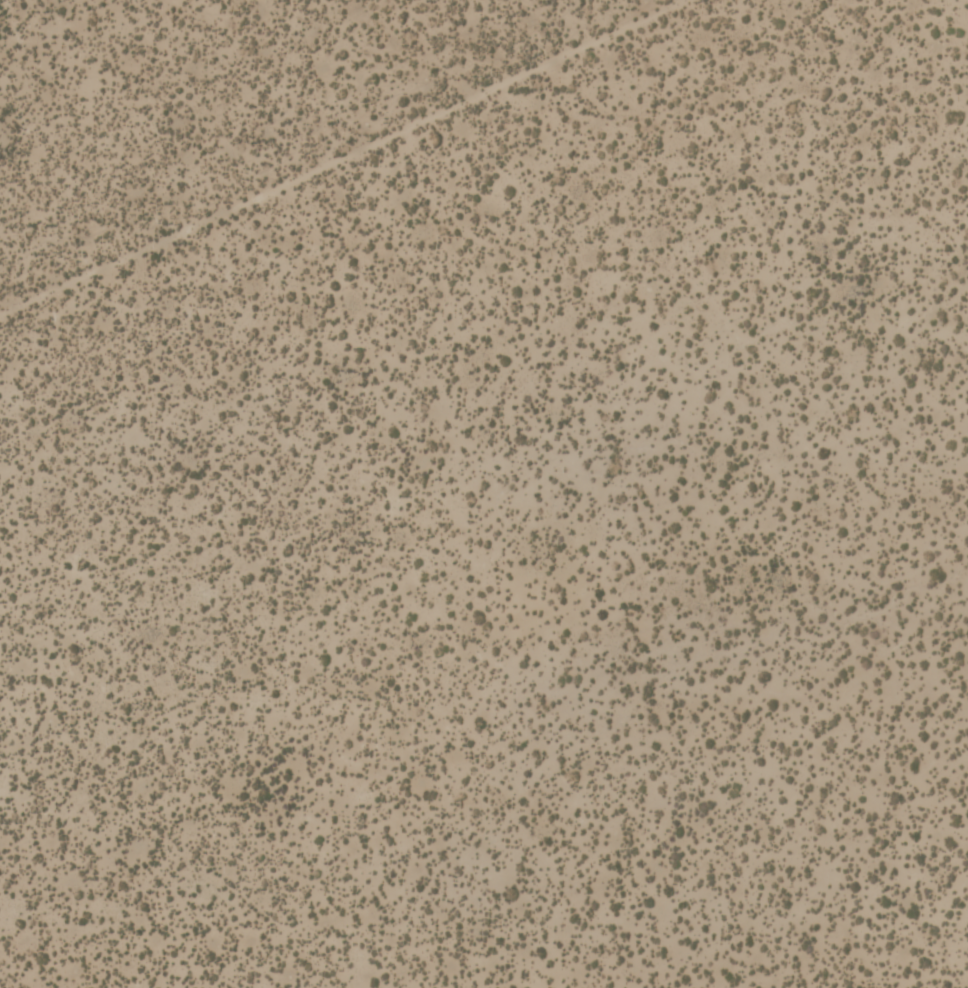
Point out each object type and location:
road: (335, 155)

